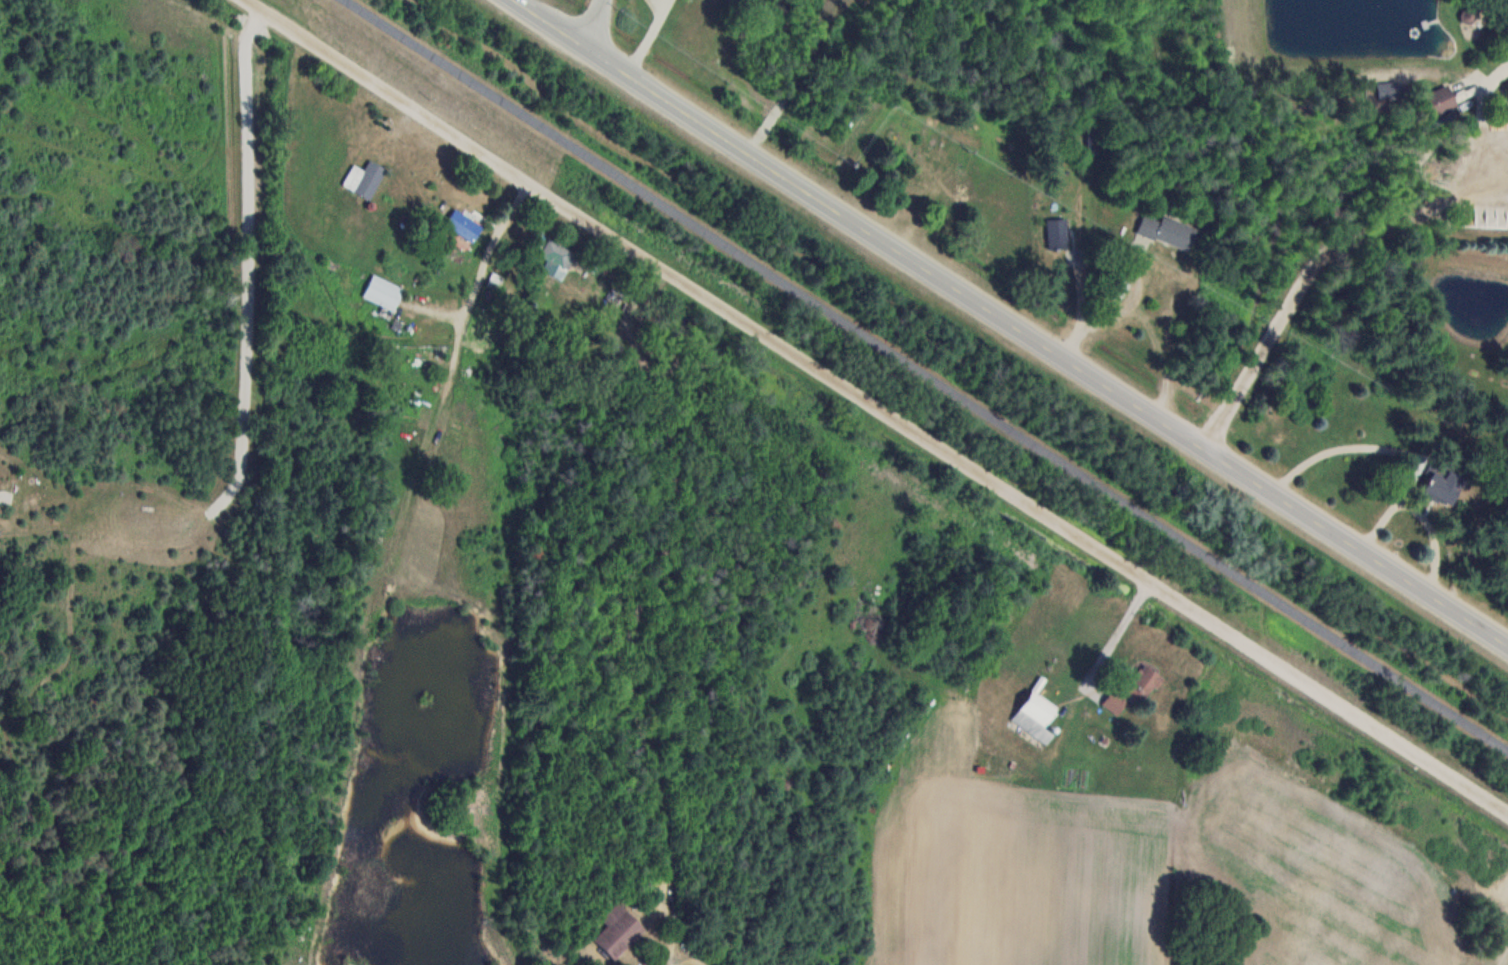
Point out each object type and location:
road: (262, 8)
road: (594, 23)
building: (1439, 100)
building: (364, 179)
building: (463, 226)
building: (1168, 231)
building: (1057, 233)
road: (1123, 257)
building: (556, 258)
building: (383, 293)
road: (1011, 323)
road: (927, 374)
road: (892, 414)
building: (1443, 485)
building: (1144, 684)
building: (1113, 704)
building: (1035, 716)
building: (618, 930)

